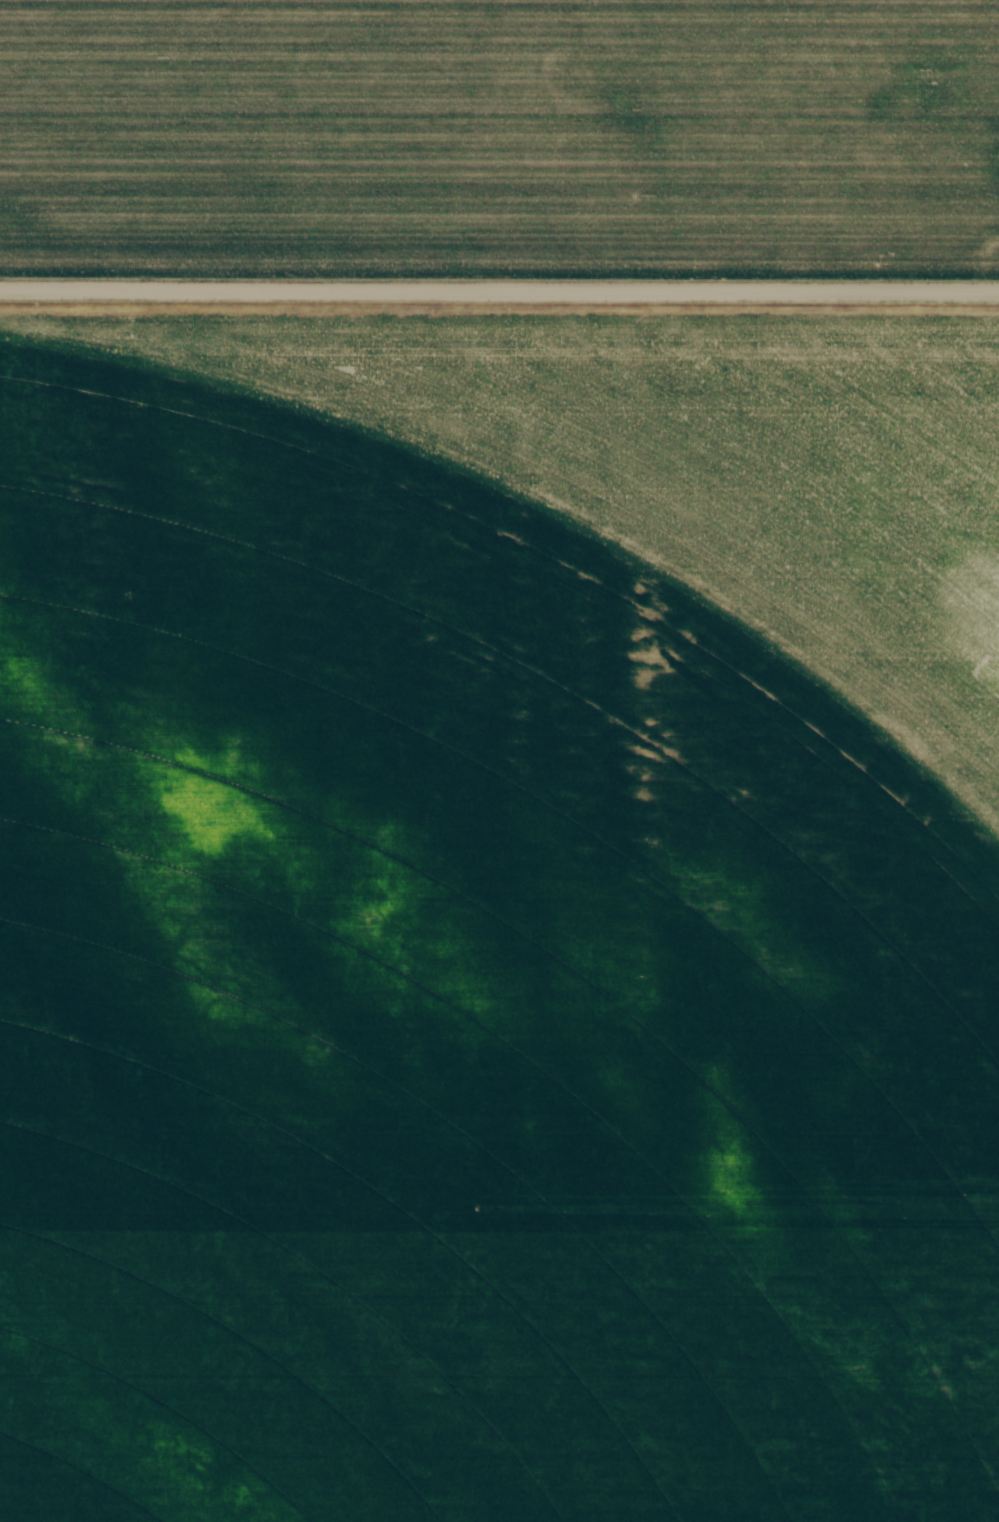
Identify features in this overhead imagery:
crop: (500, 137)
road: (499, 290)
crop: (499, 915)

